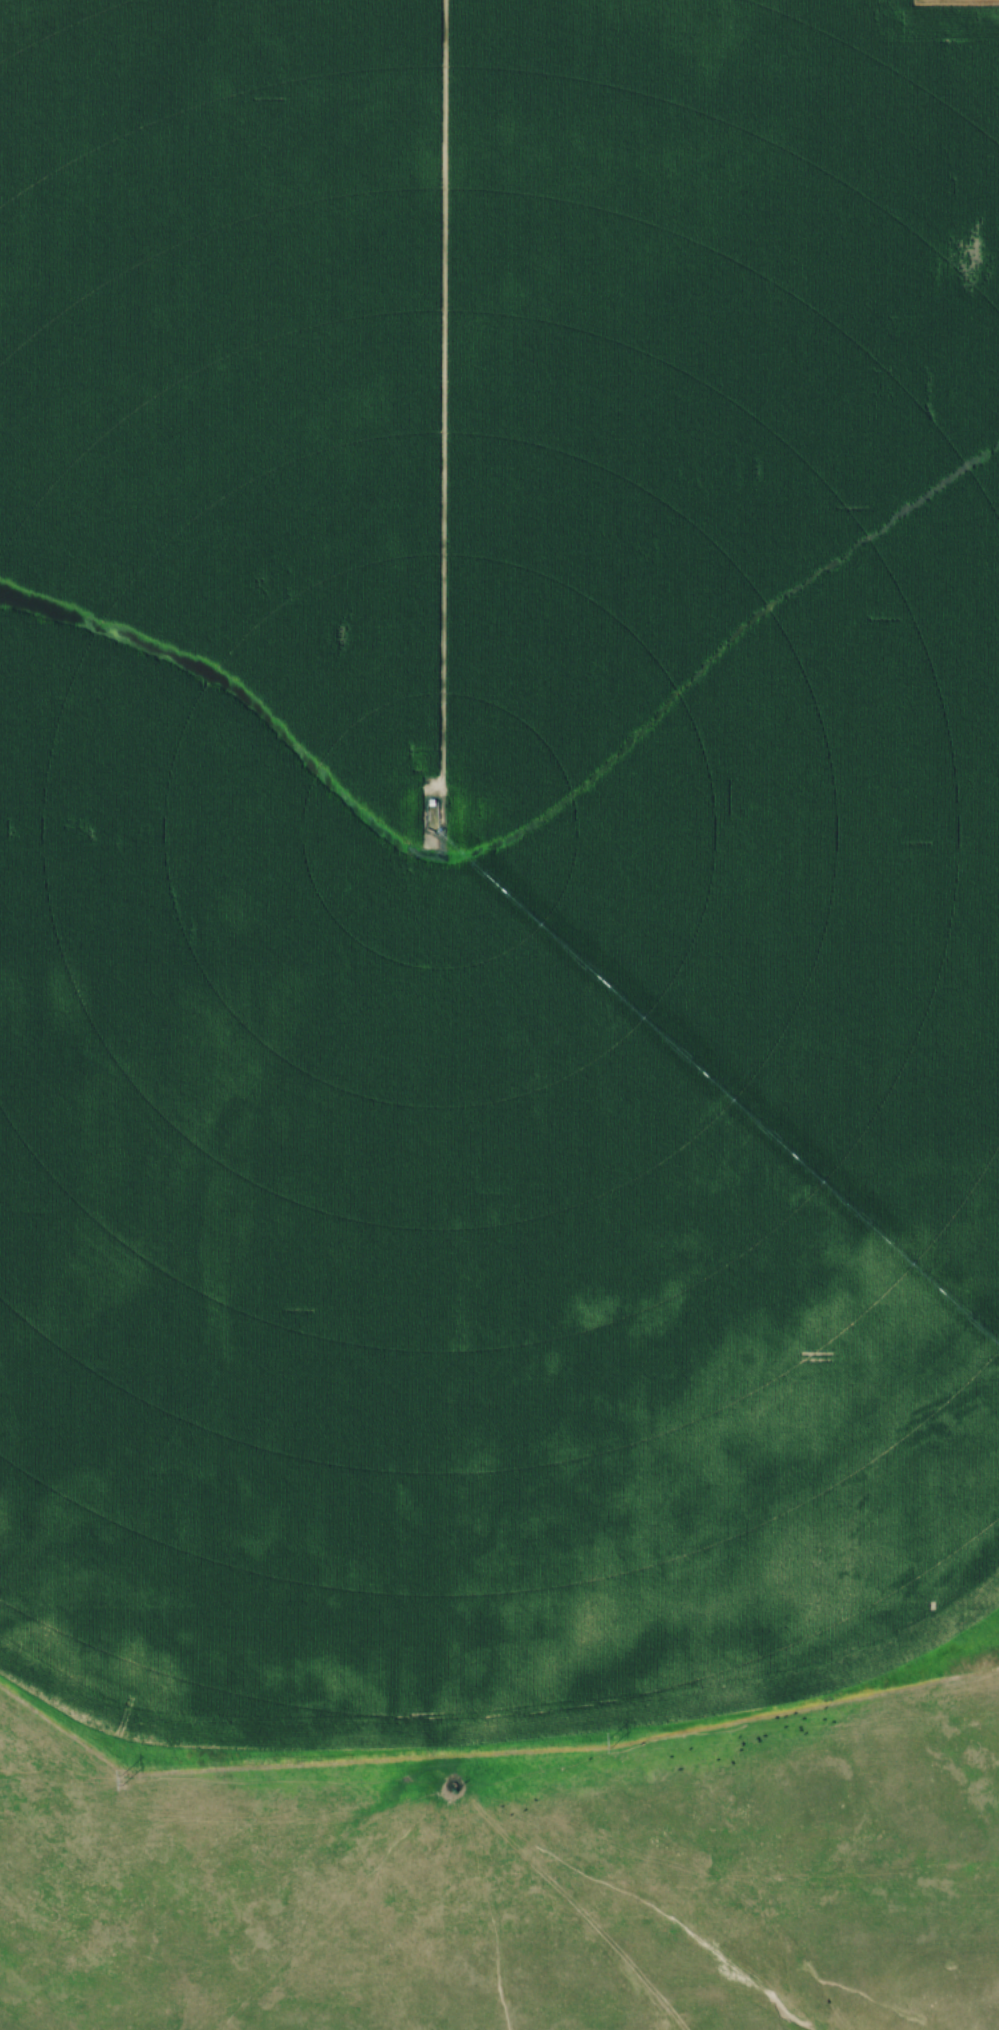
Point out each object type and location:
power tower: (604, 1743)
power tower: (116, 1781)

